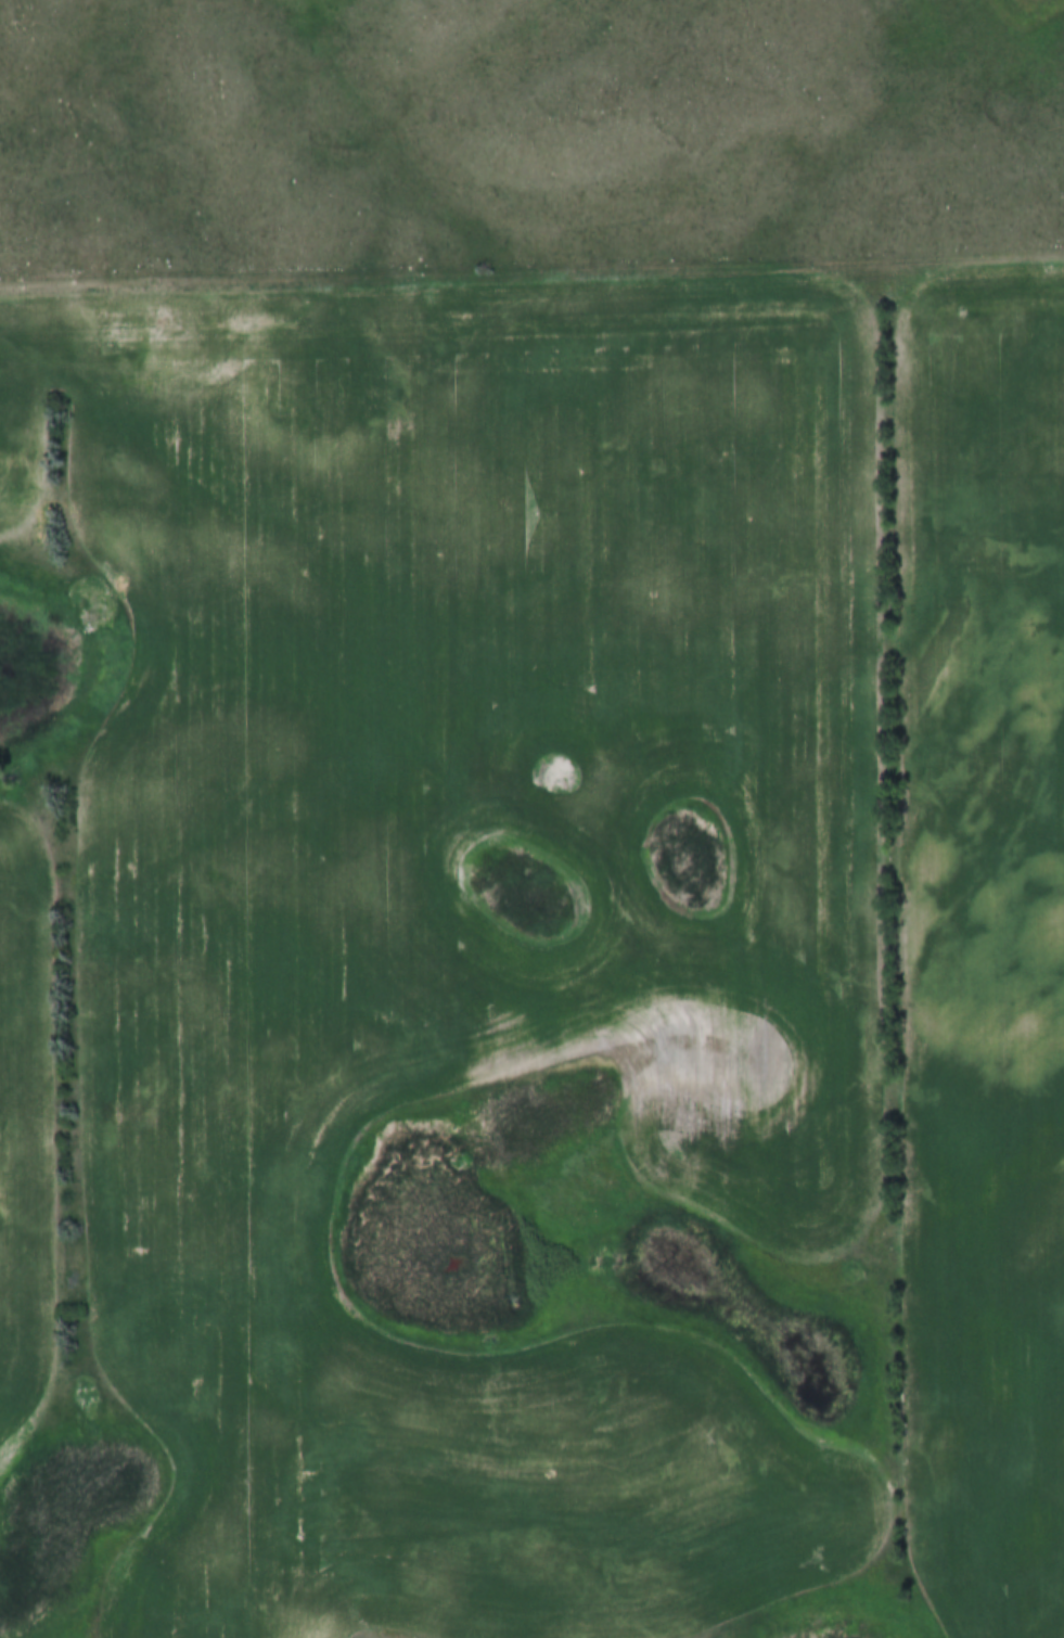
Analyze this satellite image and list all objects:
road: (531, 270)

